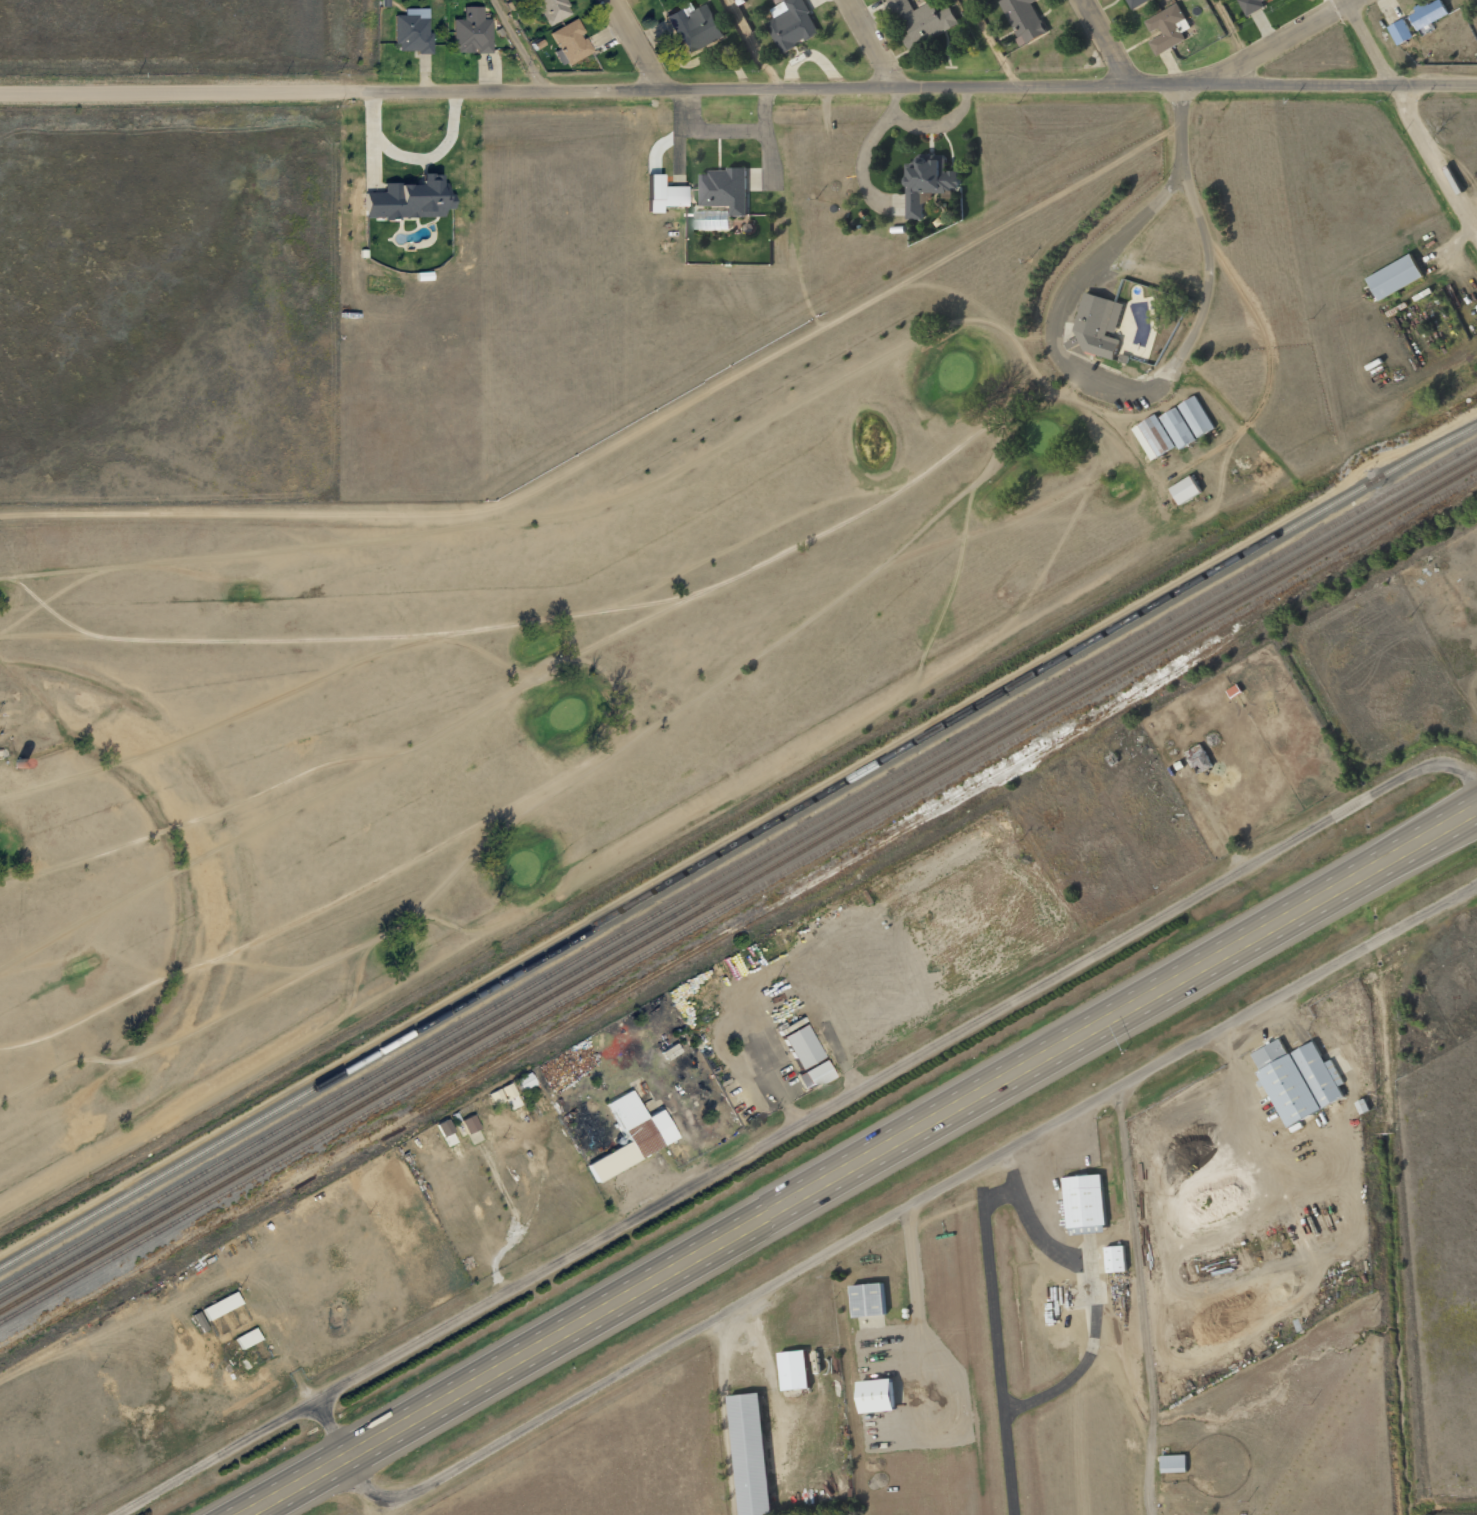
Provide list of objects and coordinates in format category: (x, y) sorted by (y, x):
building: (1281, 0)
building: (777, 1)
building: (1136, 3)
road: (1473, 5)
building: (1250, 6)
building: (548, 9)
building: (1427, 14)
building: (1023, 19)
building: (921, 21)
building: (791, 24)
building: (693, 27)
building: (1167, 28)
road: (1234, 30)
building: (475, 31)
building: (414, 32)
building: (1400, 32)
building: (569, 41)
road: (1283, 41)
road: (994, 42)
road: (1104, 42)
road: (871, 43)
road: (753, 44)
road: (636, 45)
road: (517, 47)
road: (1435, 84)
road: (696, 90)
road: (1412, 119)
building: (932, 181)
building: (727, 186)
building: (674, 195)
building: (409, 197)
building: (710, 221)
building: (1399, 274)
building: (1097, 325)
road: (1151, 393)
building: (1200, 415)
building: (1181, 426)
building: (1160, 435)
building: (1189, 490)
park: (624, 623)
building: (1198, 759)
railway: (737, 843)
railway: (738, 866)
railway: (737, 875)
railway: (737, 885)
railway: (738, 898)
building: (798, 1045)
road: (901, 1070)
building: (814, 1073)
building: (1297, 1080)
building: (523, 1081)
building: (503, 1095)
building: (467, 1123)
building: (629, 1134)
road: (860, 1166)
building: (1083, 1200)
road: (879, 1226)
building: (1114, 1258)
building: (867, 1298)
building: (218, 1305)
building: (245, 1337)
building: (792, 1369)
road: (284, 1375)
building: (873, 1395)
building: (748, 1453)
building: (1172, 1462)

